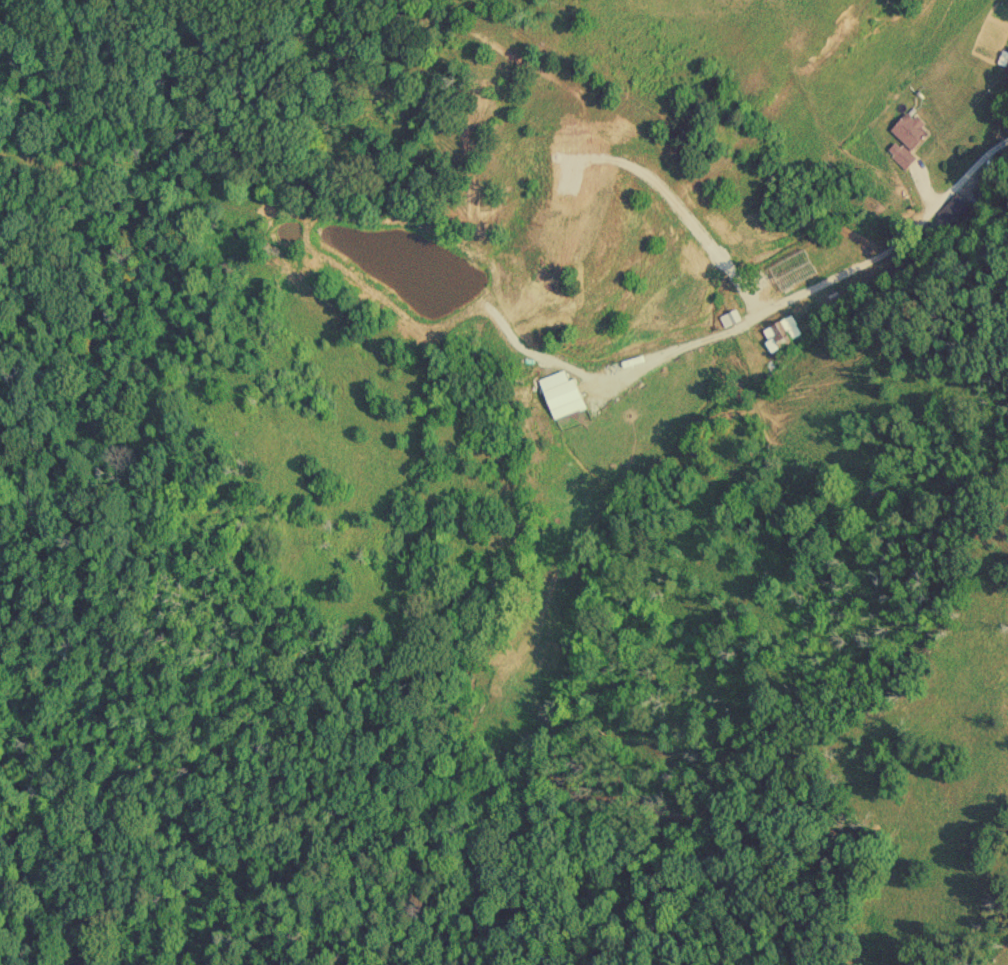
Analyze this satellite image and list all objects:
road: (776, 307)

